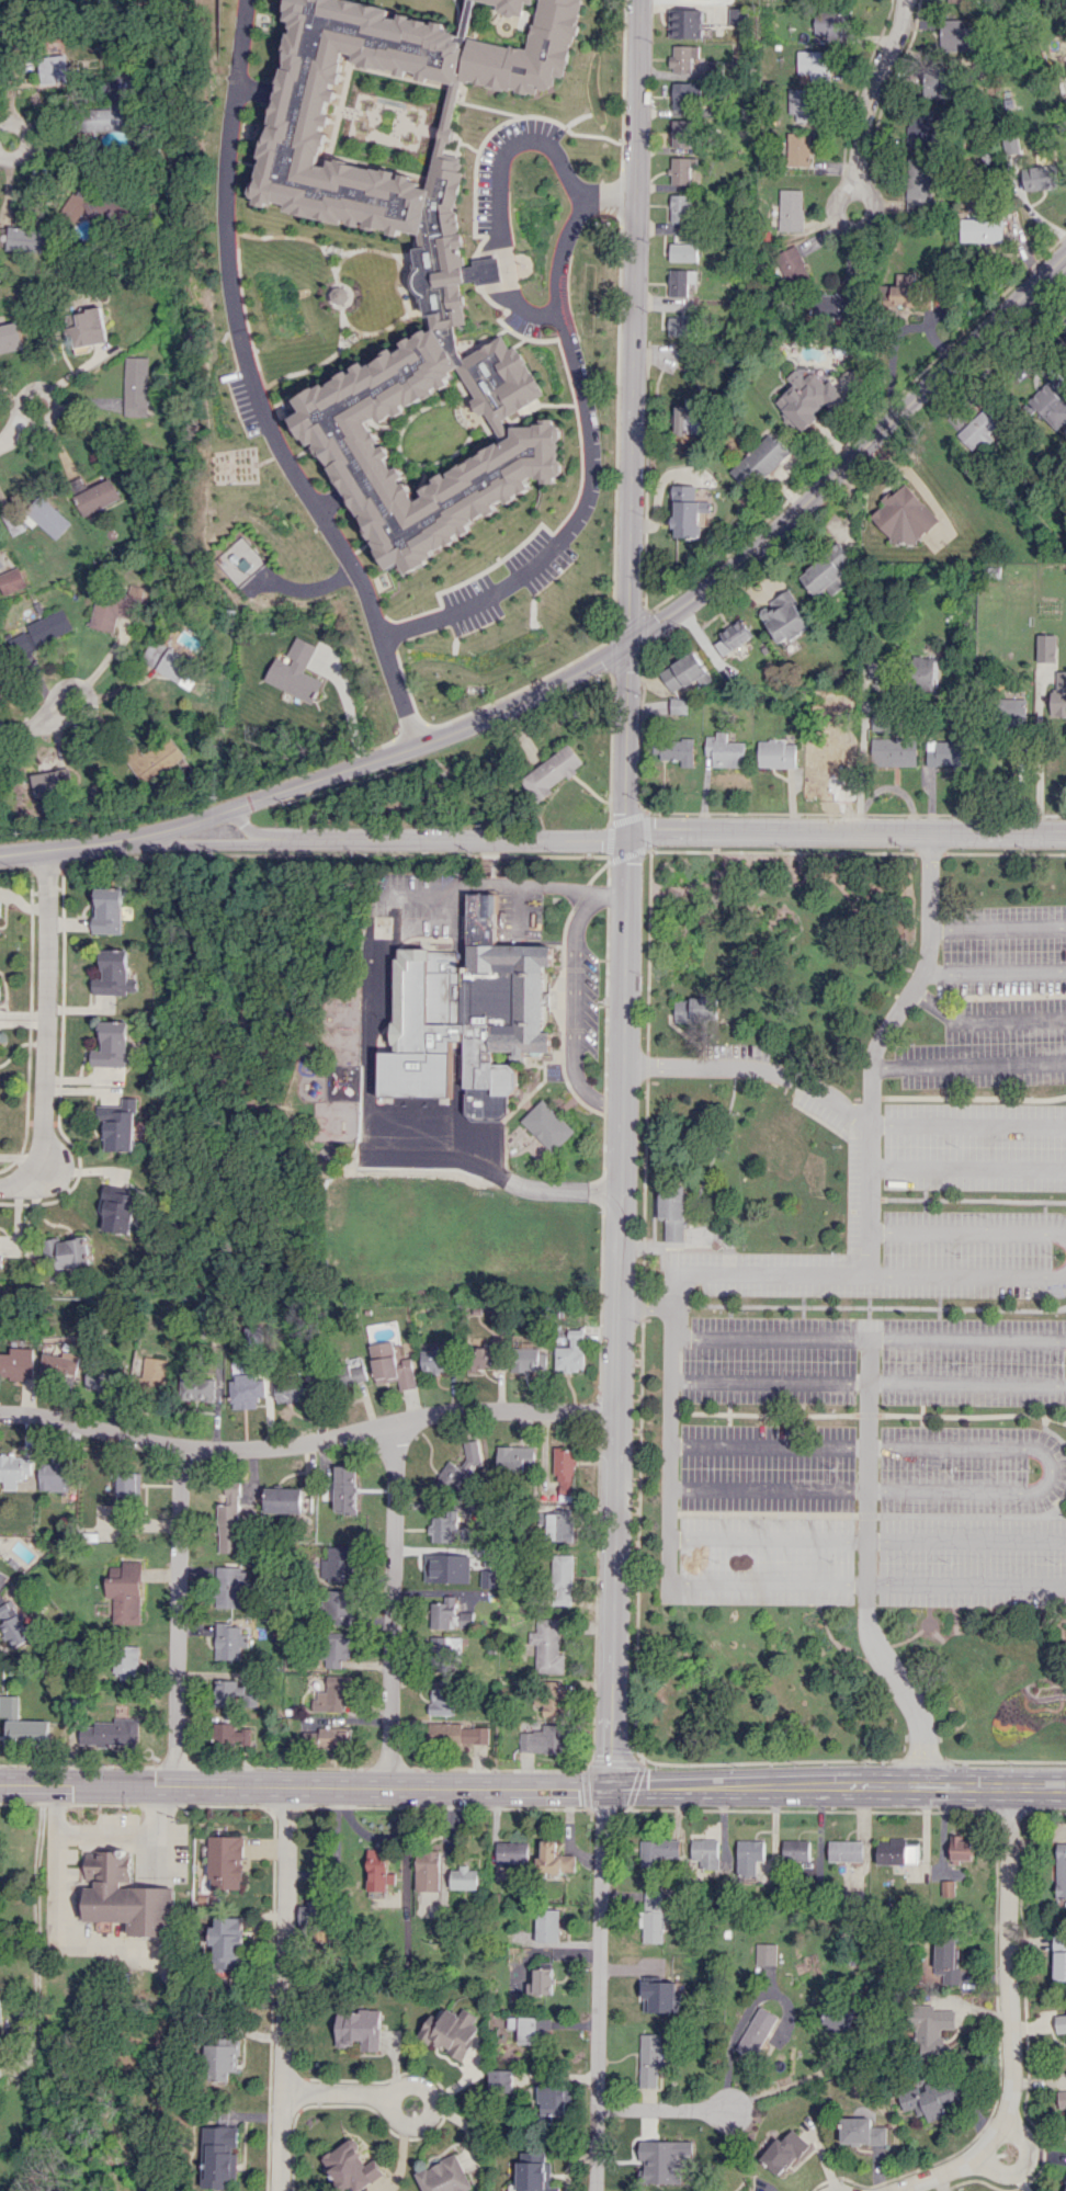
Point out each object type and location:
building: (962, 1)
building: (511, 7)
building: (737, 15)
building: (685, 23)
building: (830, 26)
building: (955, 35)
building: (682, 57)
building: (812, 61)
building: (53, 69)
building: (501, 79)
building: (939, 82)
road: (873, 88)
building: (685, 95)
building: (801, 103)
building: (109, 115)
building: (299, 124)
building: (923, 128)
building: (681, 133)
road: (24, 138)
building: (1011, 144)
building: (797, 149)
building: (680, 170)
building: (1040, 177)
building: (918, 182)
road: (500, 195)
building: (681, 207)
building: (790, 209)
road: (851, 227)
building: (982, 229)
building: (27, 238)
building: (681, 238)
building: (682, 252)
building: (791, 262)
building: (446, 271)
building: (680, 281)
building: (904, 290)
building: (832, 303)
building: (680, 325)
building: (88, 328)
building: (10, 337)
building: (498, 382)
building: (137, 384)
road: (256, 388)
road: (48, 393)
building: (807, 399)
building: (1051, 400)
parking lot: (245, 404)
building: (690, 417)
building: (979, 428)
road: (9, 434)
road: (592, 450)
building: (520, 451)
building: (760, 461)
building: (97, 498)
building: (687, 511)
building: (904, 515)
parking lot: (537, 557)
building: (828, 571)
building: (11, 580)
parking lot: (473, 602)
building: (114, 606)
building: (784, 617)
building: (39, 632)
building: (734, 636)
building: (1046, 647)
road: (592, 662)
building: (174, 666)
building: (294, 671)
building: (685, 672)
building: (873, 673)
building: (926, 673)
road: (90, 692)
building: (1058, 695)
road: (349, 705)
building: (678, 705)
building: (1012, 712)
road: (26, 728)
building: (676, 750)
building: (725, 750)
road: (862, 750)
building: (894, 751)
building: (776, 753)
building: (948, 753)
road: (1040, 753)
building: (828, 757)
building: (154, 758)
building: (552, 771)
building: (54, 782)
road: (253, 829)
road: (605, 840)
road: (625, 893)
building: (0, 907)
building: (109, 909)
parking lot: (520, 920)
parking lot: (411, 923)
road: (997, 924)
parking lot: (1003, 951)
building: (114, 972)
road: (995, 972)
road: (574, 998)
parking lot: (590, 1001)
building: (694, 1009)
building: (468, 1017)
road: (984, 1021)
road: (44, 1028)
road: (372, 1031)
building: (113, 1044)
parking lot: (986, 1044)
road: (875, 1045)
road: (968, 1064)
road: (753, 1067)
building: (121, 1123)
road: (967, 1124)
building: (547, 1125)
road: (967, 1169)
road: (63, 1176)
parking lot: (975, 1180)
building: (123, 1206)
building: (672, 1211)
road: (967, 1230)
park: (454, 1238)
building: (68, 1250)
parking lot: (977, 1257)
building: (1, 1260)
road: (869, 1274)
road: (645, 1305)
road: (869, 1338)
building: (570, 1352)
building: (483, 1356)
building: (434, 1359)
building: (529, 1359)
parking lot: (874, 1361)
building: (18, 1363)
building: (59, 1363)
building: (392, 1364)
building: (350, 1371)
building: (154, 1373)
building: (102, 1376)
road: (867, 1381)
building: (201, 1385)
building: (248, 1389)
building: (290, 1389)
road: (669, 1426)
road: (307, 1440)
building: (515, 1458)
building: (14, 1469)
road: (1052, 1469)
building: (457, 1471)
building: (564, 1471)
building: (54, 1476)
building: (128, 1484)
building: (344, 1488)
building: (283, 1499)
parking lot: (872, 1515)
building: (234, 1524)
building: (559, 1525)
building: (444, 1528)
road: (866, 1539)
building: (337, 1564)
building: (446, 1567)
road: (866, 1568)
building: (1, 1578)
building: (488, 1578)
building: (562, 1579)
road: (866, 1581)
building: (229, 1585)
building: (126, 1592)
road: (396, 1604)
building: (338, 1607)
building: (449, 1614)
road: (180, 1616)
building: (15, 1625)
building: (229, 1641)
building: (547, 1644)
building: (446, 1645)
building: (338, 1653)
building: (126, 1662)
building: (234, 1693)
building: (333, 1694)
building: (552, 1698)
building: (443, 1700)
building: (22, 1724)
building: (111, 1732)
building: (458, 1733)
building: (230, 1735)
building: (326, 1737)
building: (542, 1739)
road: (838, 1785)
road: (305, 1787)
road: (106, 1834)
building: (962, 1849)
building: (658, 1850)
building: (796, 1850)
building: (846, 1850)
building: (513, 1852)
building: (705, 1852)
building: (895, 1852)
building: (749, 1857)
building: (554, 1859)
building: (226, 1862)
building: (377, 1870)
building: (427, 1870)
building: (1061, 1870)
building: (464, 1877)
building: (946, 1888)
building: (124, 1895)
building: (309, 1915)
building: (653, 1916)
building: (547, 1925)
road: (36, 1930)
building: (227, 1943)
building: (764, 1953)
building: (1059, 1956)
building: (946, 1957)
building: (764, 1968)
building: (541, 1982)
road: (604, 1988)
road: (284, 1989)
building: (660, 1995)
road: (1011, 2018)
building: (838, 2019)
building: (1061, 2023)
building: (522, 2028)
building: (356, 2029)
building: (931, 2030)
building: (451, 2031)
building: (757, 2032)
road: (732, 2051)
building: (650, 2059)
building: (220, 2061)
park: (109, 2076)
building: (500, 2079)
road: (798, 2080)
road: (401, 2087)
building: (553, 2098)
building: (930, 2099)
building: (1062, 2099)
road: (672, 2105)
building: (862, 2132)
building: (784, 2150)
building: (220, 2156)
building: (662, 2159)
road: (1021, 2165)
building: (350, 2167)
building: (534, 2172)
building: (444, 2176)
building: (1065, 2190)

